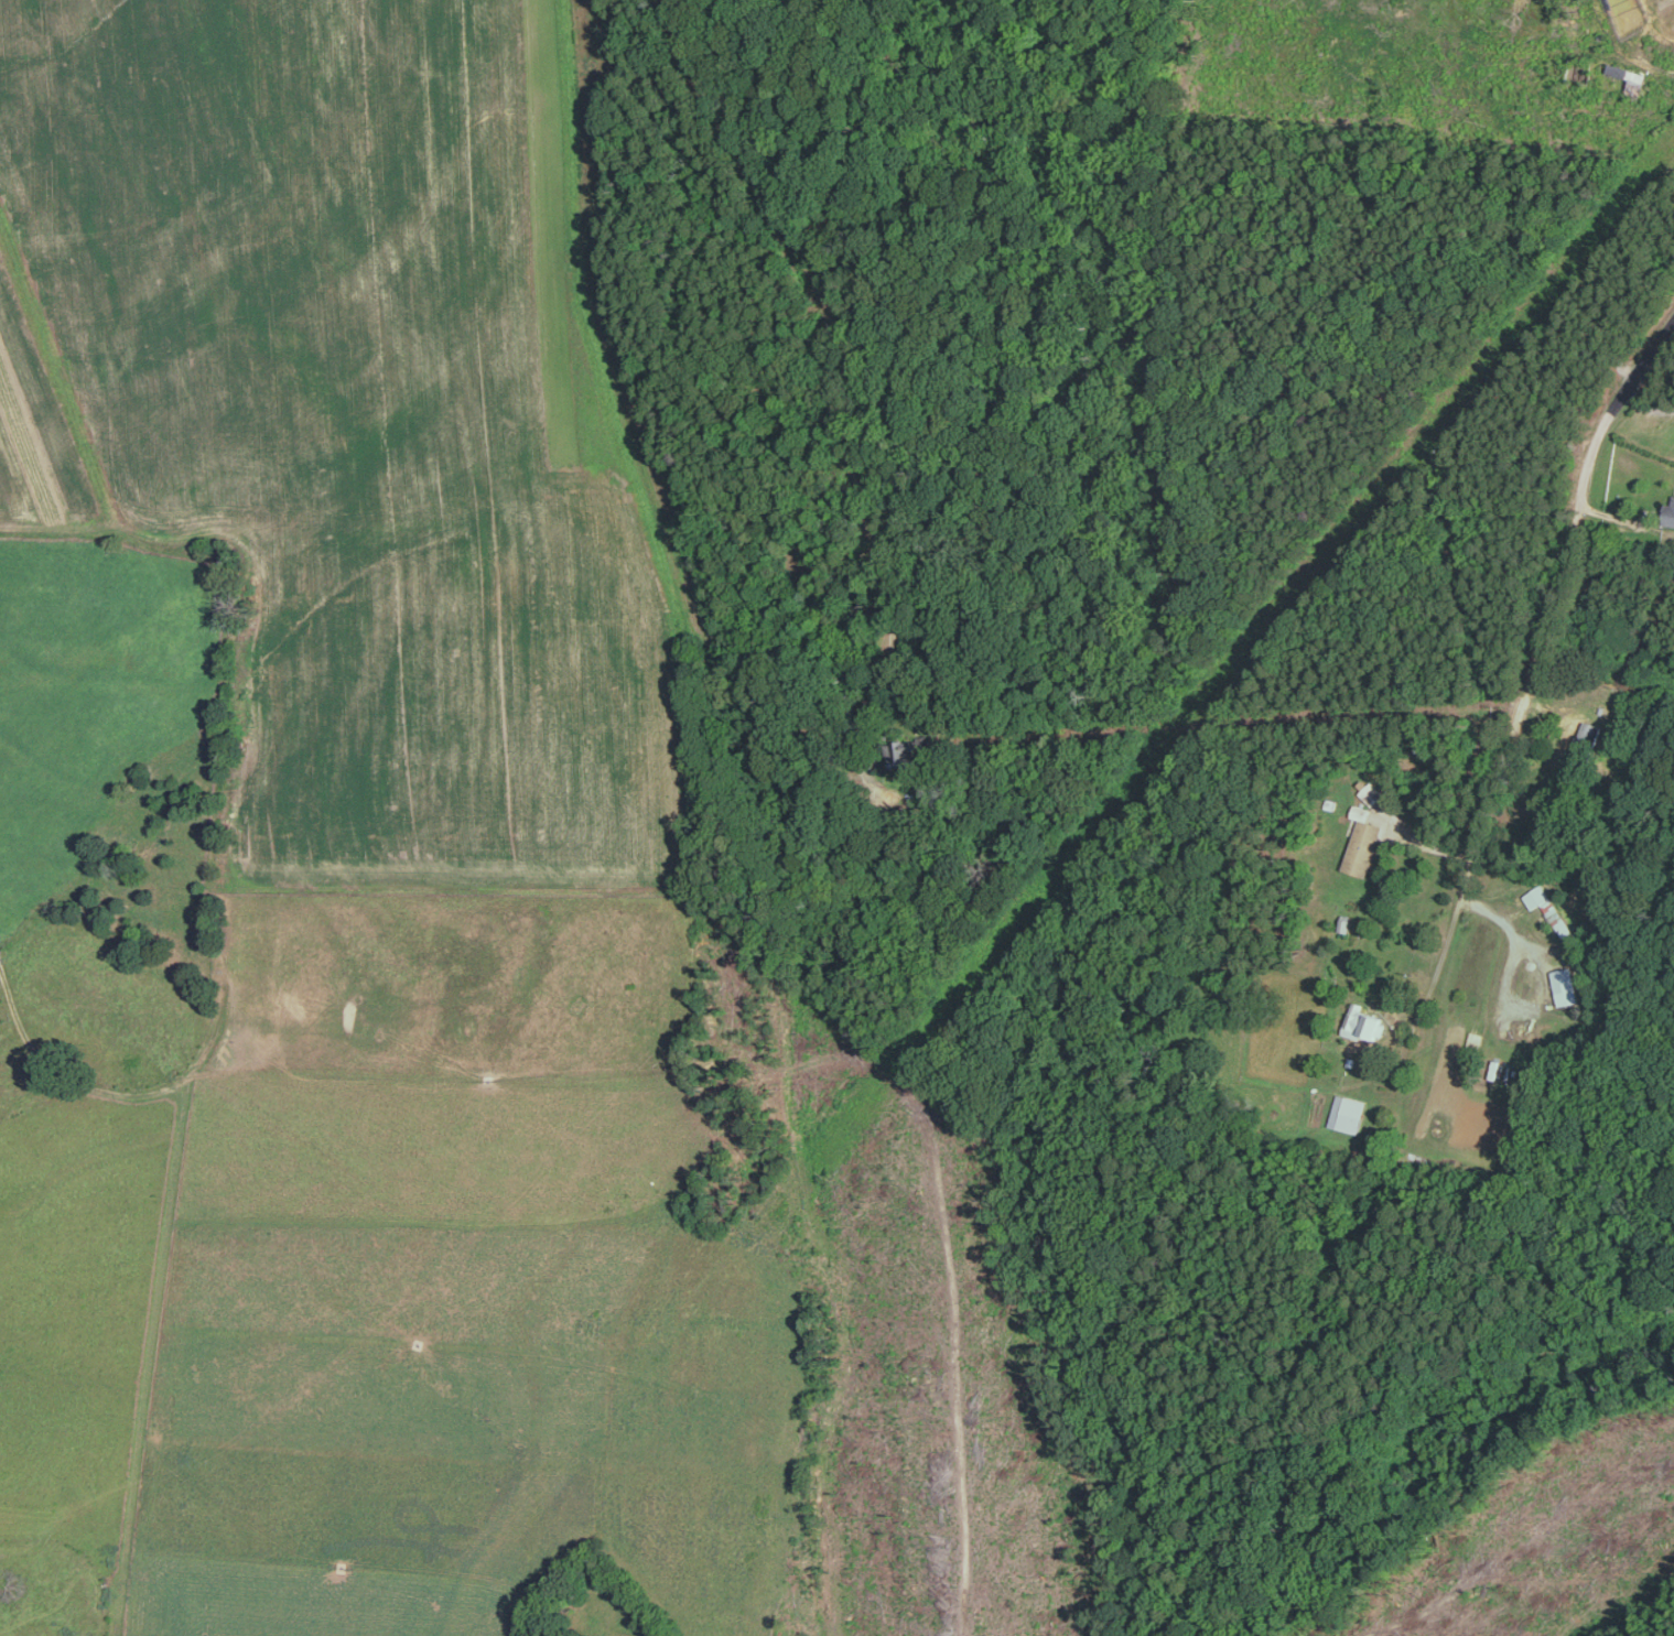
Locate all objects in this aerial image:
road: (839, 370)
road: (1648, 404)
building: (1671, 510)
road: (1523, 685)
building: (1587, 736)
building: (907, 755)
building: (1372, 793)
building: (1361, 811)
building: (1363, 847)
building: (1536, 896)
building: (1567, 986)
building: (1362, 1022)
building: (1347, 1113)

